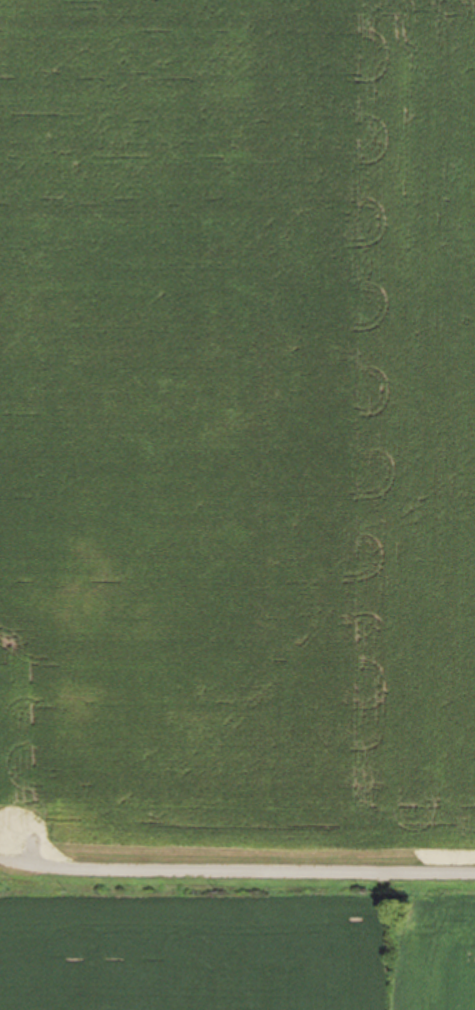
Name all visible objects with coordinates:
road: (234, 895)

